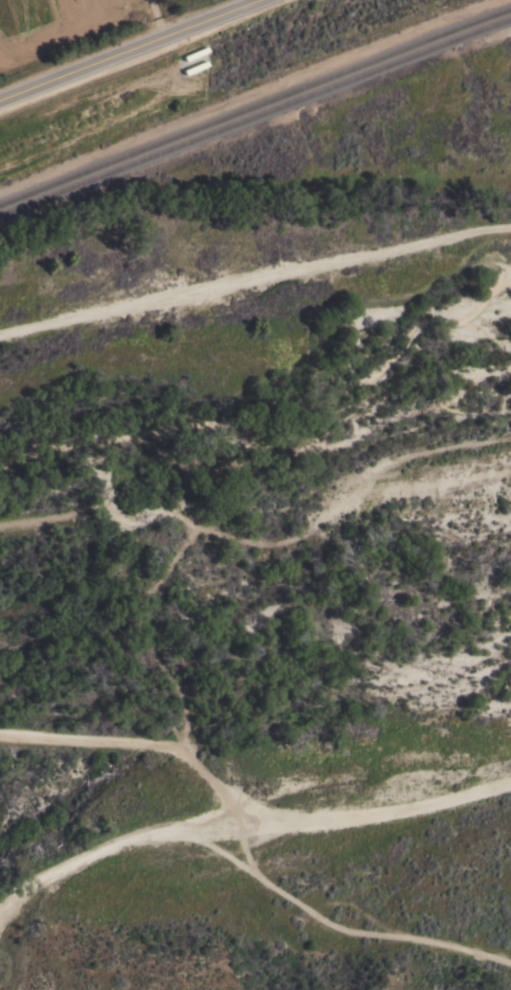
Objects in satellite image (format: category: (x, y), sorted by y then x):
road: (129, 50)
railway: (255, 105)
railway: (255, 116)
road: (253, 271)
road: (422, 452)
road: (415, 489)
road: (235, 809)
road: (248, 810)

